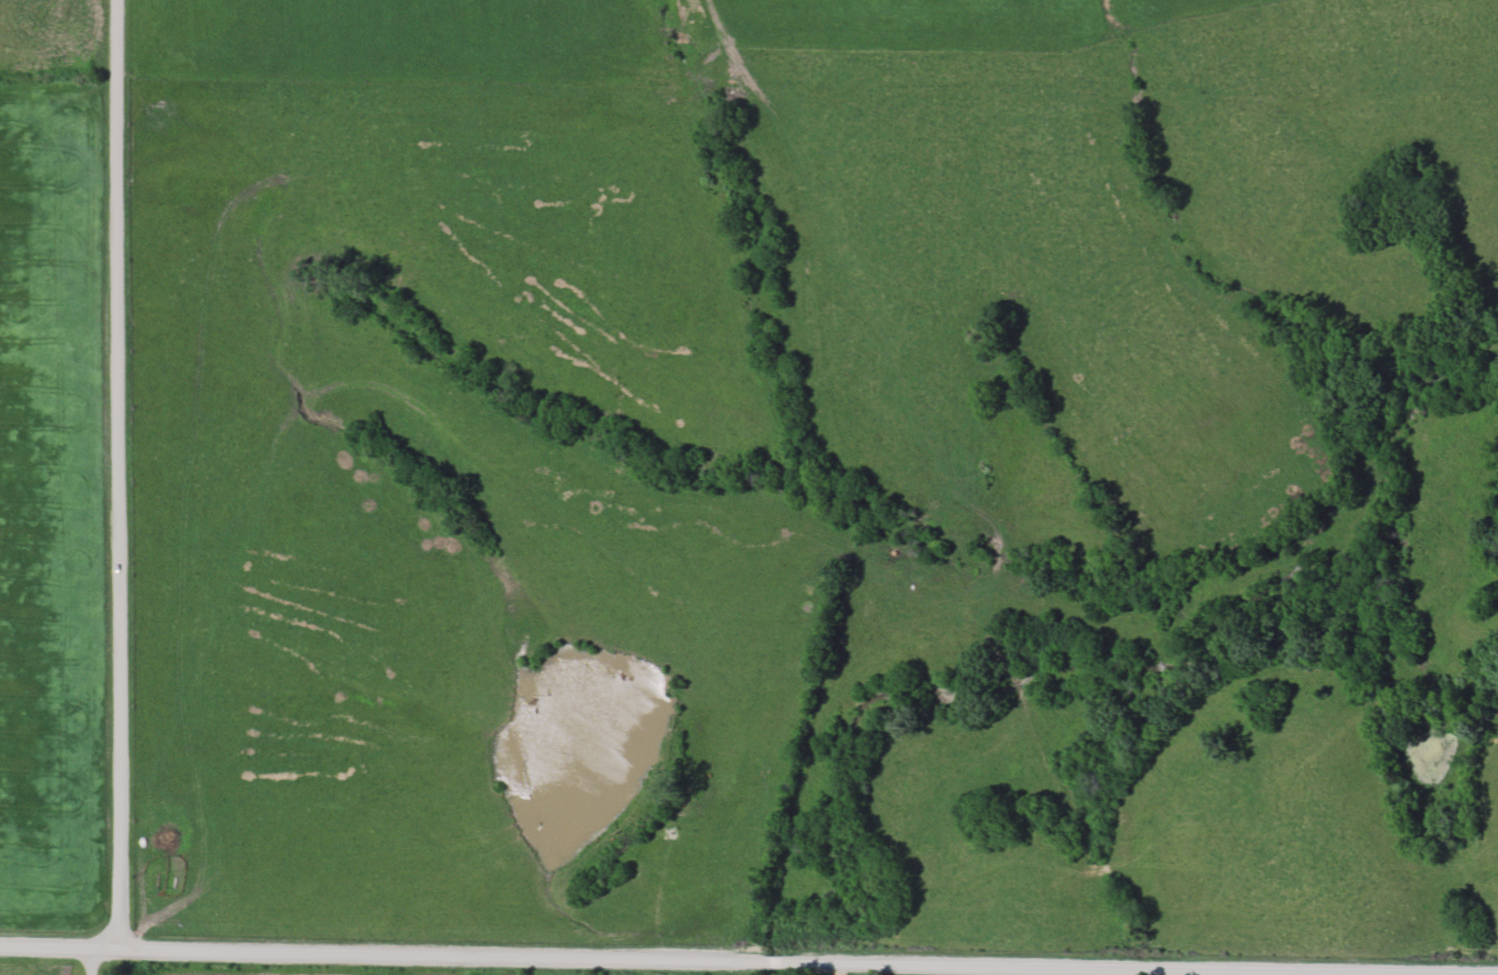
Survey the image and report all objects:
road: (121, 472)
road: (604, 959)
road: (119, 960)

